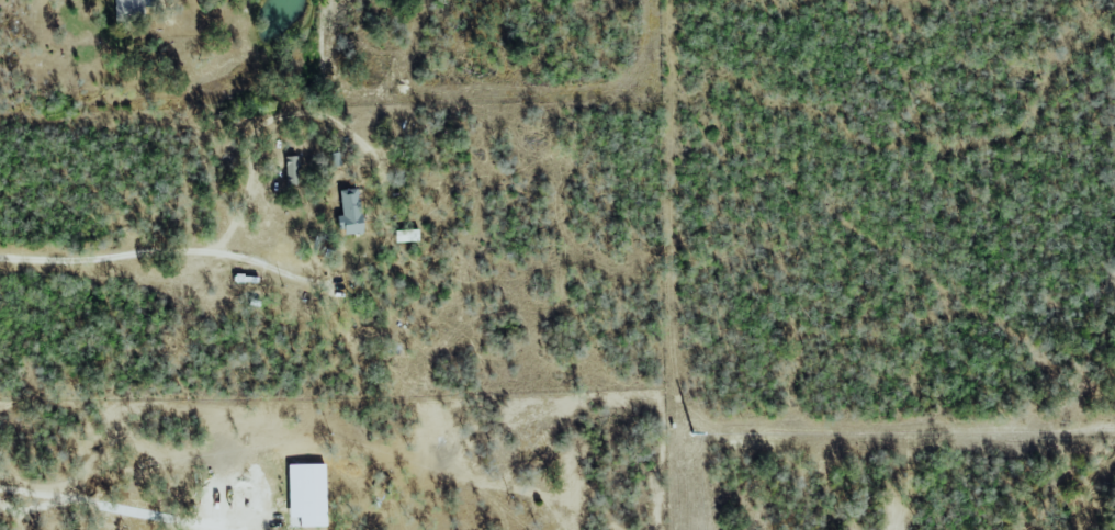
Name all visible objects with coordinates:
road: (94, 1)
building: (129, 10)
building: (291, 169)
building: (349, 212)
building: (406, 235)
road: (153, 260)
power tower: (691, 433)
building: (306, 495)
road: (86, 508)

